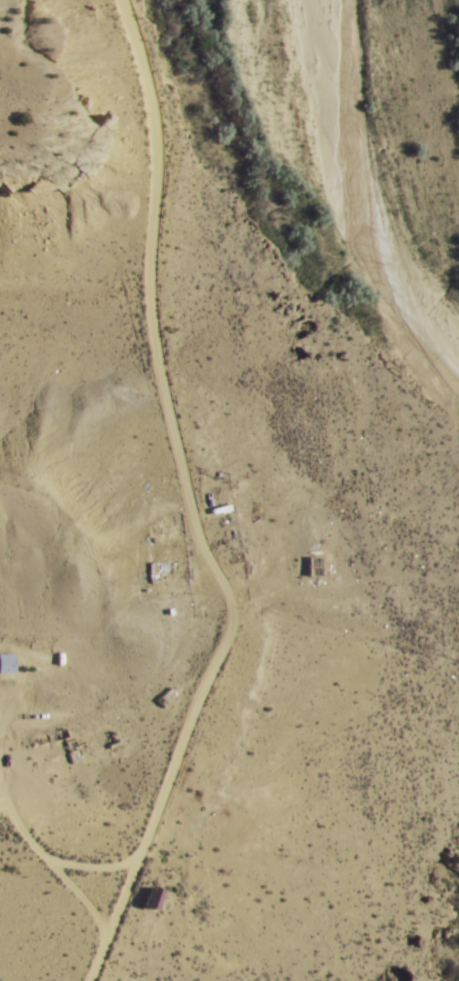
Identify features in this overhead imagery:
river: (321, 172)
road: (148, 291)
building: (311, 565)
building: (155, 569)
building: (6, 663)
building: (165, 696)
road: (166, 778)
building: (150, 898)

